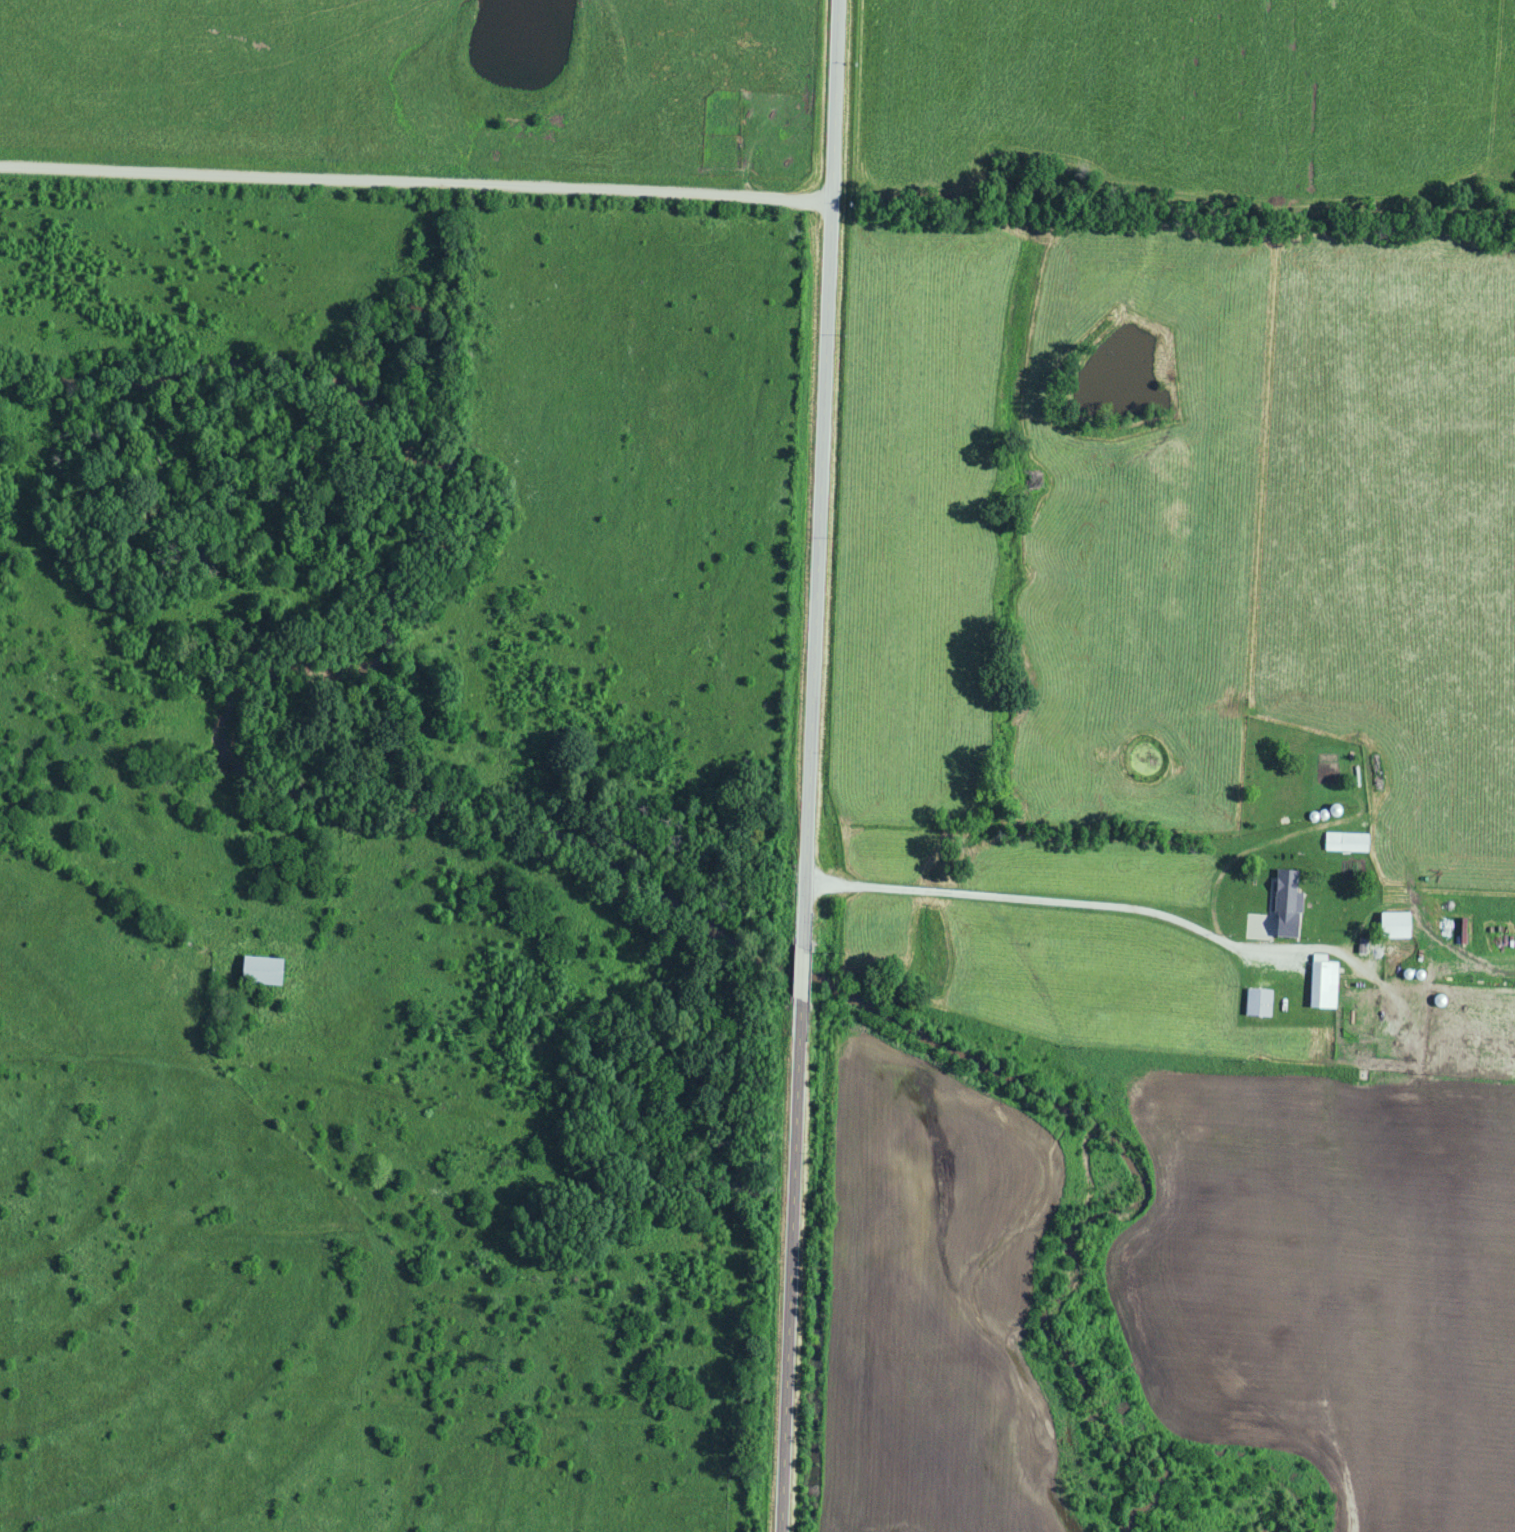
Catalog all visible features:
road: (415, 180)
road: (808, 765)
building: (1346, 839)
road: (1062, 898)
building: (1290, 903)
building: (1387, 929)
building: (259, 968)
building: (1322, 981)
building: (1257, 999)
building: (1449, 1040)
river: (1081, 1206)
road: (378, 1249)
river: (1291, 1519)

